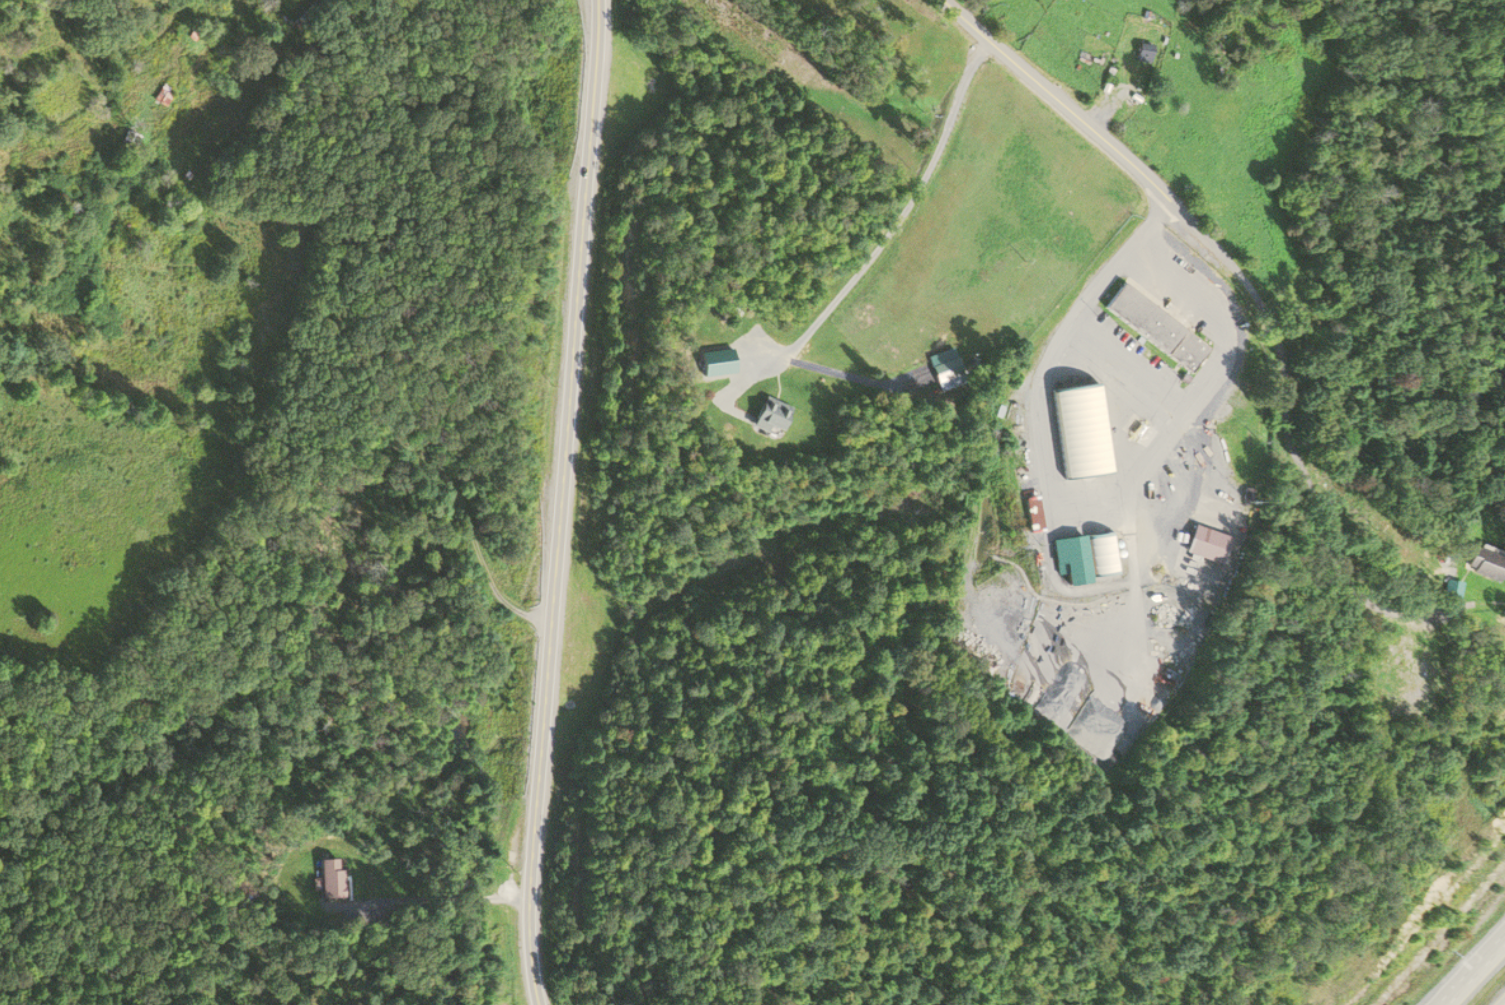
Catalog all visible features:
building: (1143, 53)
building: (161, 94)
building: (129, 140)
road: (898, 213)
road: (1261, 315)
building: (1157, 327)
building: (947, 370)
building: (777, 414)
road: (560, 502)
building: (1036, 513)
building: (1215, 543)
building: (1087, 556)
building: (1492, 559)
road: (1474, 972)

